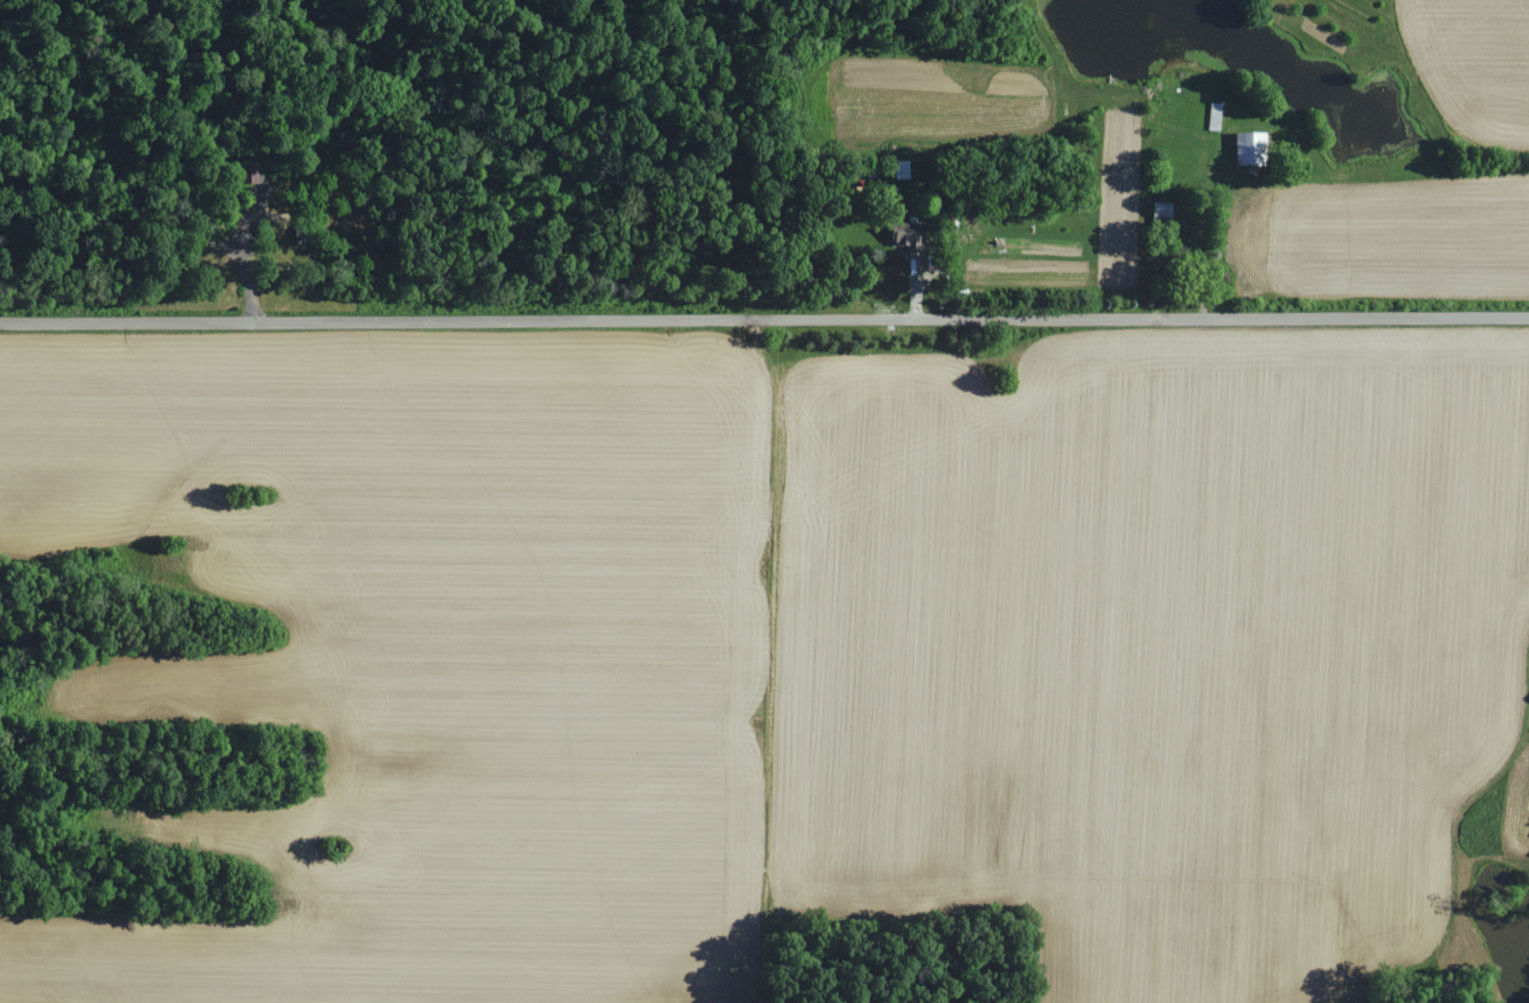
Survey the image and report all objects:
building: (1244, 151)
building: (247, 174)
building: (903, 237)
road: (1200, 241)
road: (764, 333)

